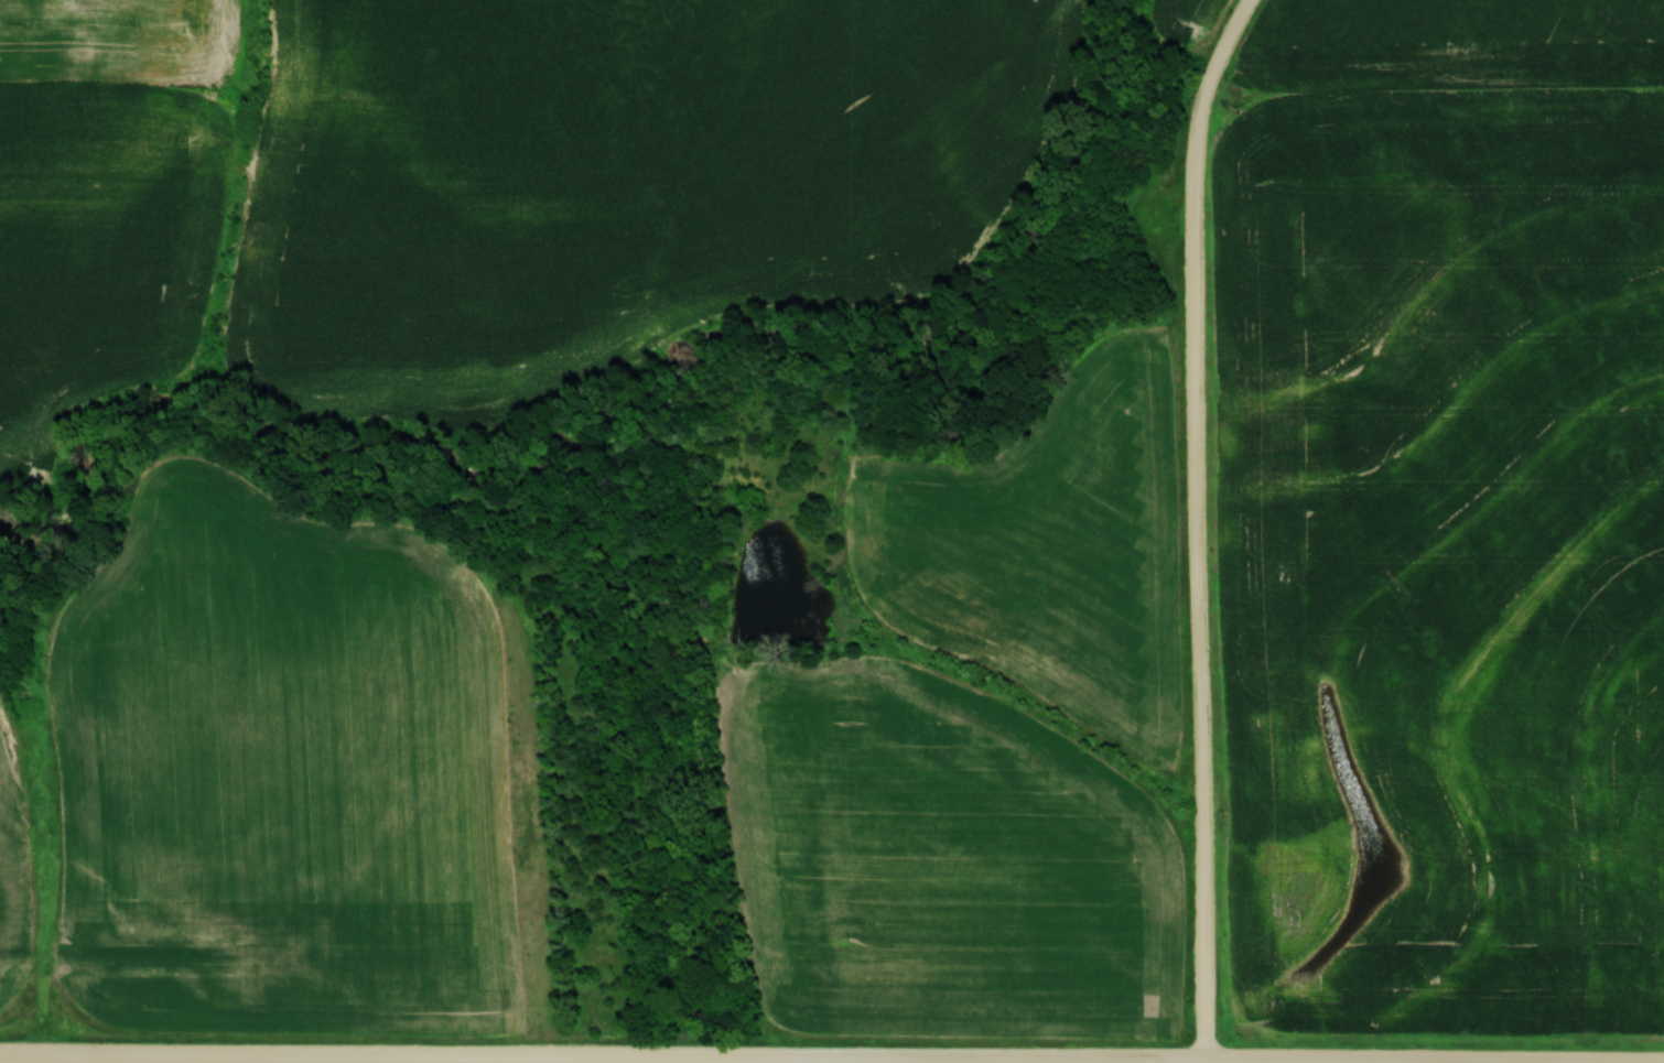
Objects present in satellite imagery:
road: (1201, 524)
road: (603, 1062)

